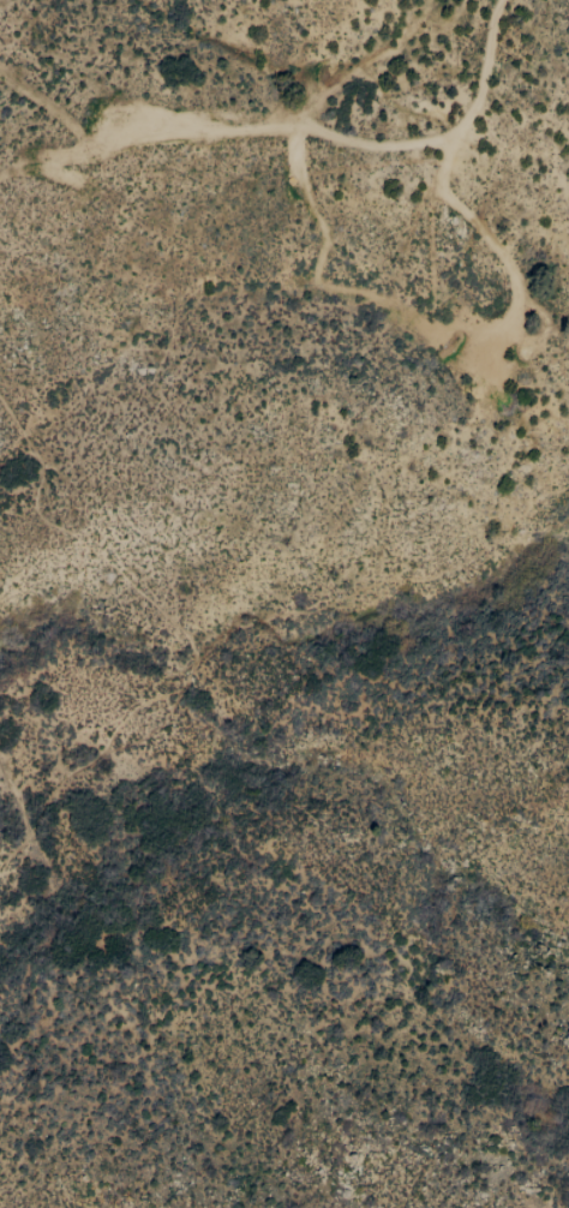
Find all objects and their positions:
road: (441, 180)

